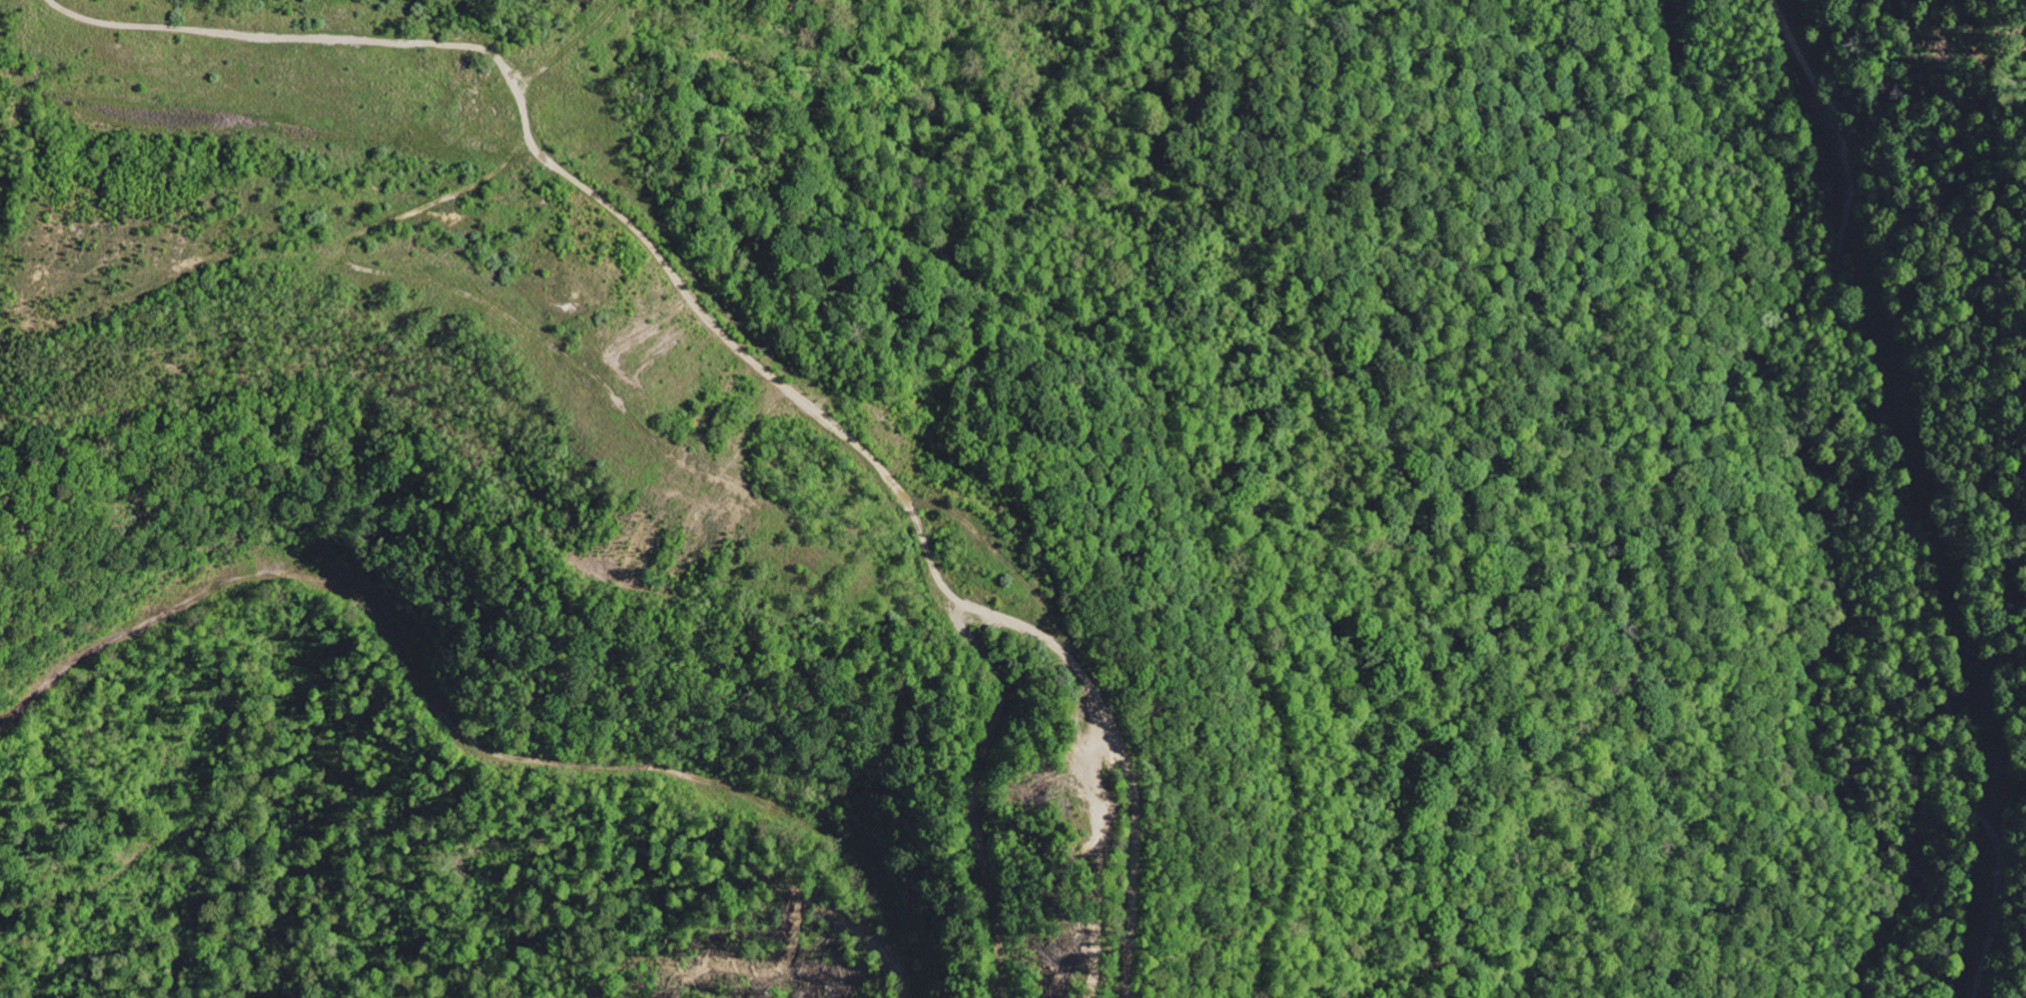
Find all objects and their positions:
road: (1897, 493)

